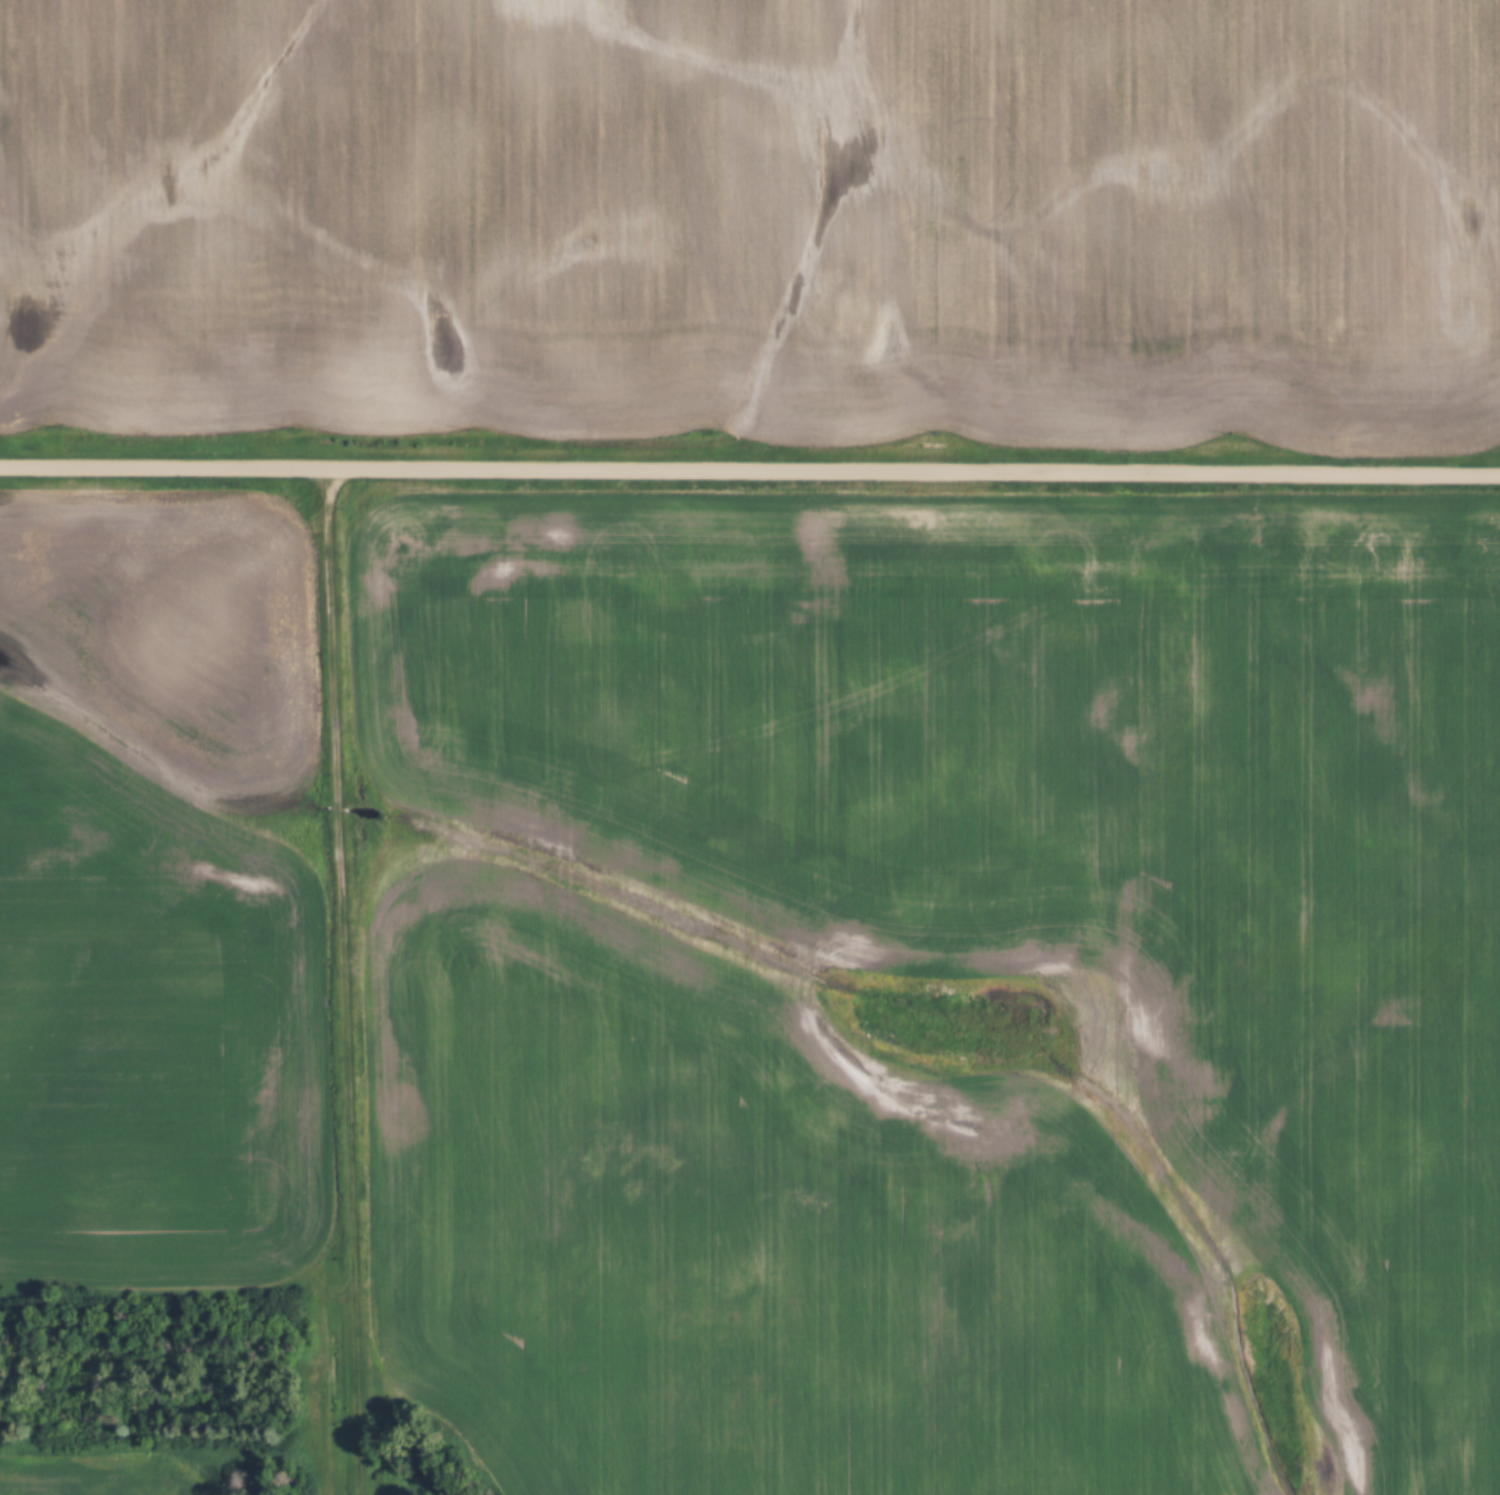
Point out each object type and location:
road: (750, 471)
road: (346, 980)

